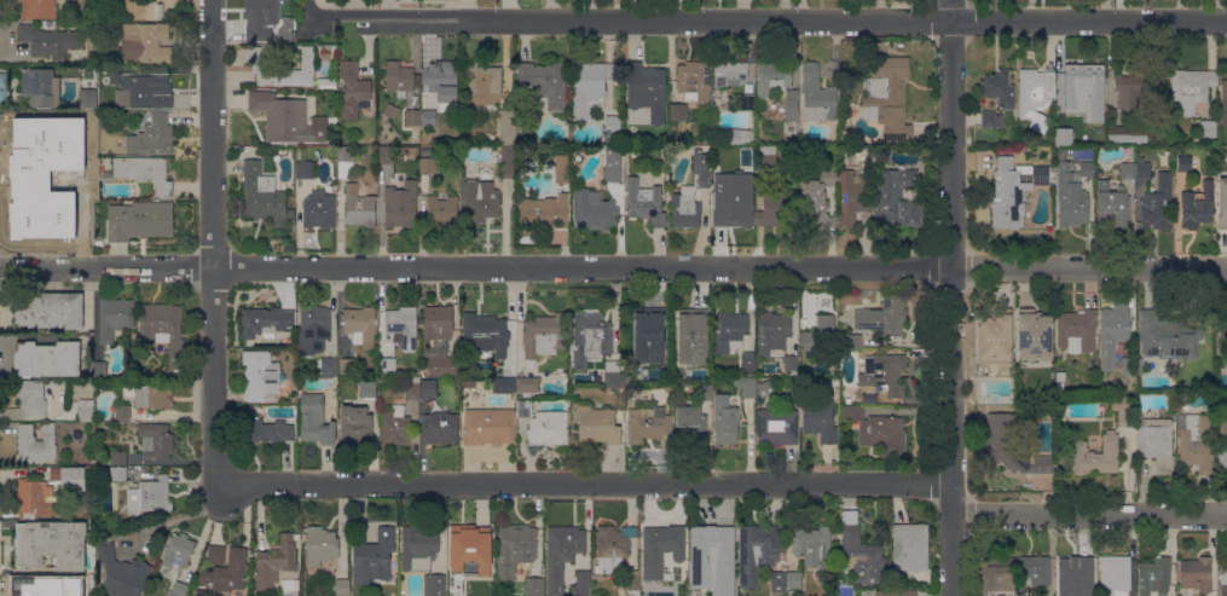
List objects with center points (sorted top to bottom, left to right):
building: (39, 8)
building: (264, 13)
road: (768, 21)
building: (59, 23)
building: (51, 40)
building: (143, 41)
building: (282, 69)
building: (88, 71)
building: (730, 73)
building: (400, 77)
building: (442, 80)
building: (694, 81)
building: (328, 82)
building: (546, 82)
building: (1081, 83)
building: (779, 85)
building: (41, 86)
building: (484, 86)
building: (1190, 88)
building: (353, 89)
building: (590, 89)
building: (1138, 89)
building: (146, 91)
building: (647, 91)
building: (329, 96)
building: (817, 96)
building: (887, 97)
building: (1035, 97)
building: (87, 98)
building: (999, 99)
building: (747, 102)
building: (1223, 102)
building: (678, 112)
building: (282, 116)
building: (413, 117)
building: (429, 117)
building: (1064, 125)
building: (613, 126)
building: (507, 127)
building: (57, 128)
building: (1208, 128)
building: (1127, 133)
building: (739, 135)
building: (152, 137)
building: (332, 139)
building: (471, 139)
building: (610, 140)
building: (243, 147)
building: (617, 147)
building: (387, 154)
building: (635, 154)
building: (563, 155)
building: (1222, 156)
building: (766, 157)
building: (748, 160)
building: (346, 161)
building: (508, 161)
building: (1185, 163)
building: (428, 164)
building: (702, 168)
building: (1087, 168)
building: (305, 169)
building: (1128, 169)
building: (1142, 169)
building: (145, 172)
building: (613, 174)
building: (562, 175)
building: (748, 175)
building: (51, 183)
building: (1014, 190)
building: (265, 196)
building: (1070, 197)
building: (818, 198)
building: (853, 198)
building: (896, 198)
building: (481, 199)
building: (644, 202)
building: (1158, 202)
building: (1222, 203)
building: (401, 204)
building: (1112, 204)
building: (1197, 206)
building: (359, 207)
building: (731, 207)
building: (685, 208)
building: (319, 209)
building: (442, 209)
building: (594, 209)
building: (544, 210)
building: (777, 210)
building: (140, 220)
building: (44, 226)
building: (882, 235)
road: (210, 248)
road: (613, 267)
road: (950, 297)
building: (51, 309)
building: (880, 317)
building: (115, 318)
building: (266, 320)
building: (314, 322)
building: (361, 323)
building: (438, 323)
building: (403, 324)
building: (1225, 326)
building: (1078, 328)
building: (164, 329)
building: (730, 330)
building: (772, 331)
building: (690, 334)
building: (1112, 334)
building: (485, 335)
building: (545, 335)
building: (647, 335)
building: (1034, 335)
building: (818, 336)
building: (995, 336)
building: (1168, 336)
building: (591, 337)
building: (1226, 338)
building: (850, 340)
building: (1075, 343)
building: (47, 358)
building: (441, 359)
building: (748, 363)
building: (791, 364)
building: (328, 365)
building: (347, 365)
building: (388, 365)
building: (1128, 365)
building: (98, 369)
building: (1139, 370)
building: (884, 372)
building: (261, 376)
building: (1060, 376)
building: (613, 377)
building: (575, 378)
building: (52, 383)
building: (469, 384)
building: (505, 384)
building: (527, 384)
building: (746, 386)
building: (367, 387)
building: (412, 388)
building: (428, 388)
building: (766, 388)
building: (705, 392)
building: (154, 395)
building: (33, 397)
building: (525, 407)
building: (1124, 409)
building: (86, 410)
building: (122, 411)
building: (316, 419)
building: (820, 419)
building: (355, 423)
building: (727, 423)
building: (598, 424)
building: (649, 424)
building: (691, 424)
building: (395, 426)
building: (488, 426)
building: (777, 426)
building: (441, 427)
building: (548, 428)
building: (267, 429)
building: (879, 430)
building: (156, 440)
building: (1197, 442)
building: (35, 444)
building: (1157, 444)
building: (1222, 445)
building: (1013, 450)
building: (1096, 455)
building: (118, 457)
building: (118, 473)
building: (71, 478)
road: (586, 482)
building: (150, 496)
building: (37, 497)
road: (1089, 513)
building: (418, 543)
building: (468, 543)
building: (51, 544)
building: (320, 545)
building: (614, 545)
building: (662, 545)
building: (814, 546)
building: (910, 546)
building: (515, 549)
building: (178, 550)
building: (707, 550)
building: (757, 551)
building: (861, 552)
building: (562, 554)
building: (372, 556)
building: (276, 561)
building: (224, 571)
building: (1031, 573)
building: (1196, 573)
building: (122, 574)
building: (1001, 574)
building: (1075, 575)
building: (1115, 575)
building: (1154, 575)
building: (584, 579)
building: (793, 580)
building: (631, 581)
building: (777, 581)
building: (1223, 581)
building: (729, 584)
building: (434, 585)
building: (486, 585)
building: (534, 585)
building: (35, 586)
building: (342, 586)
building: (178, 589)
building: (896, 592)

